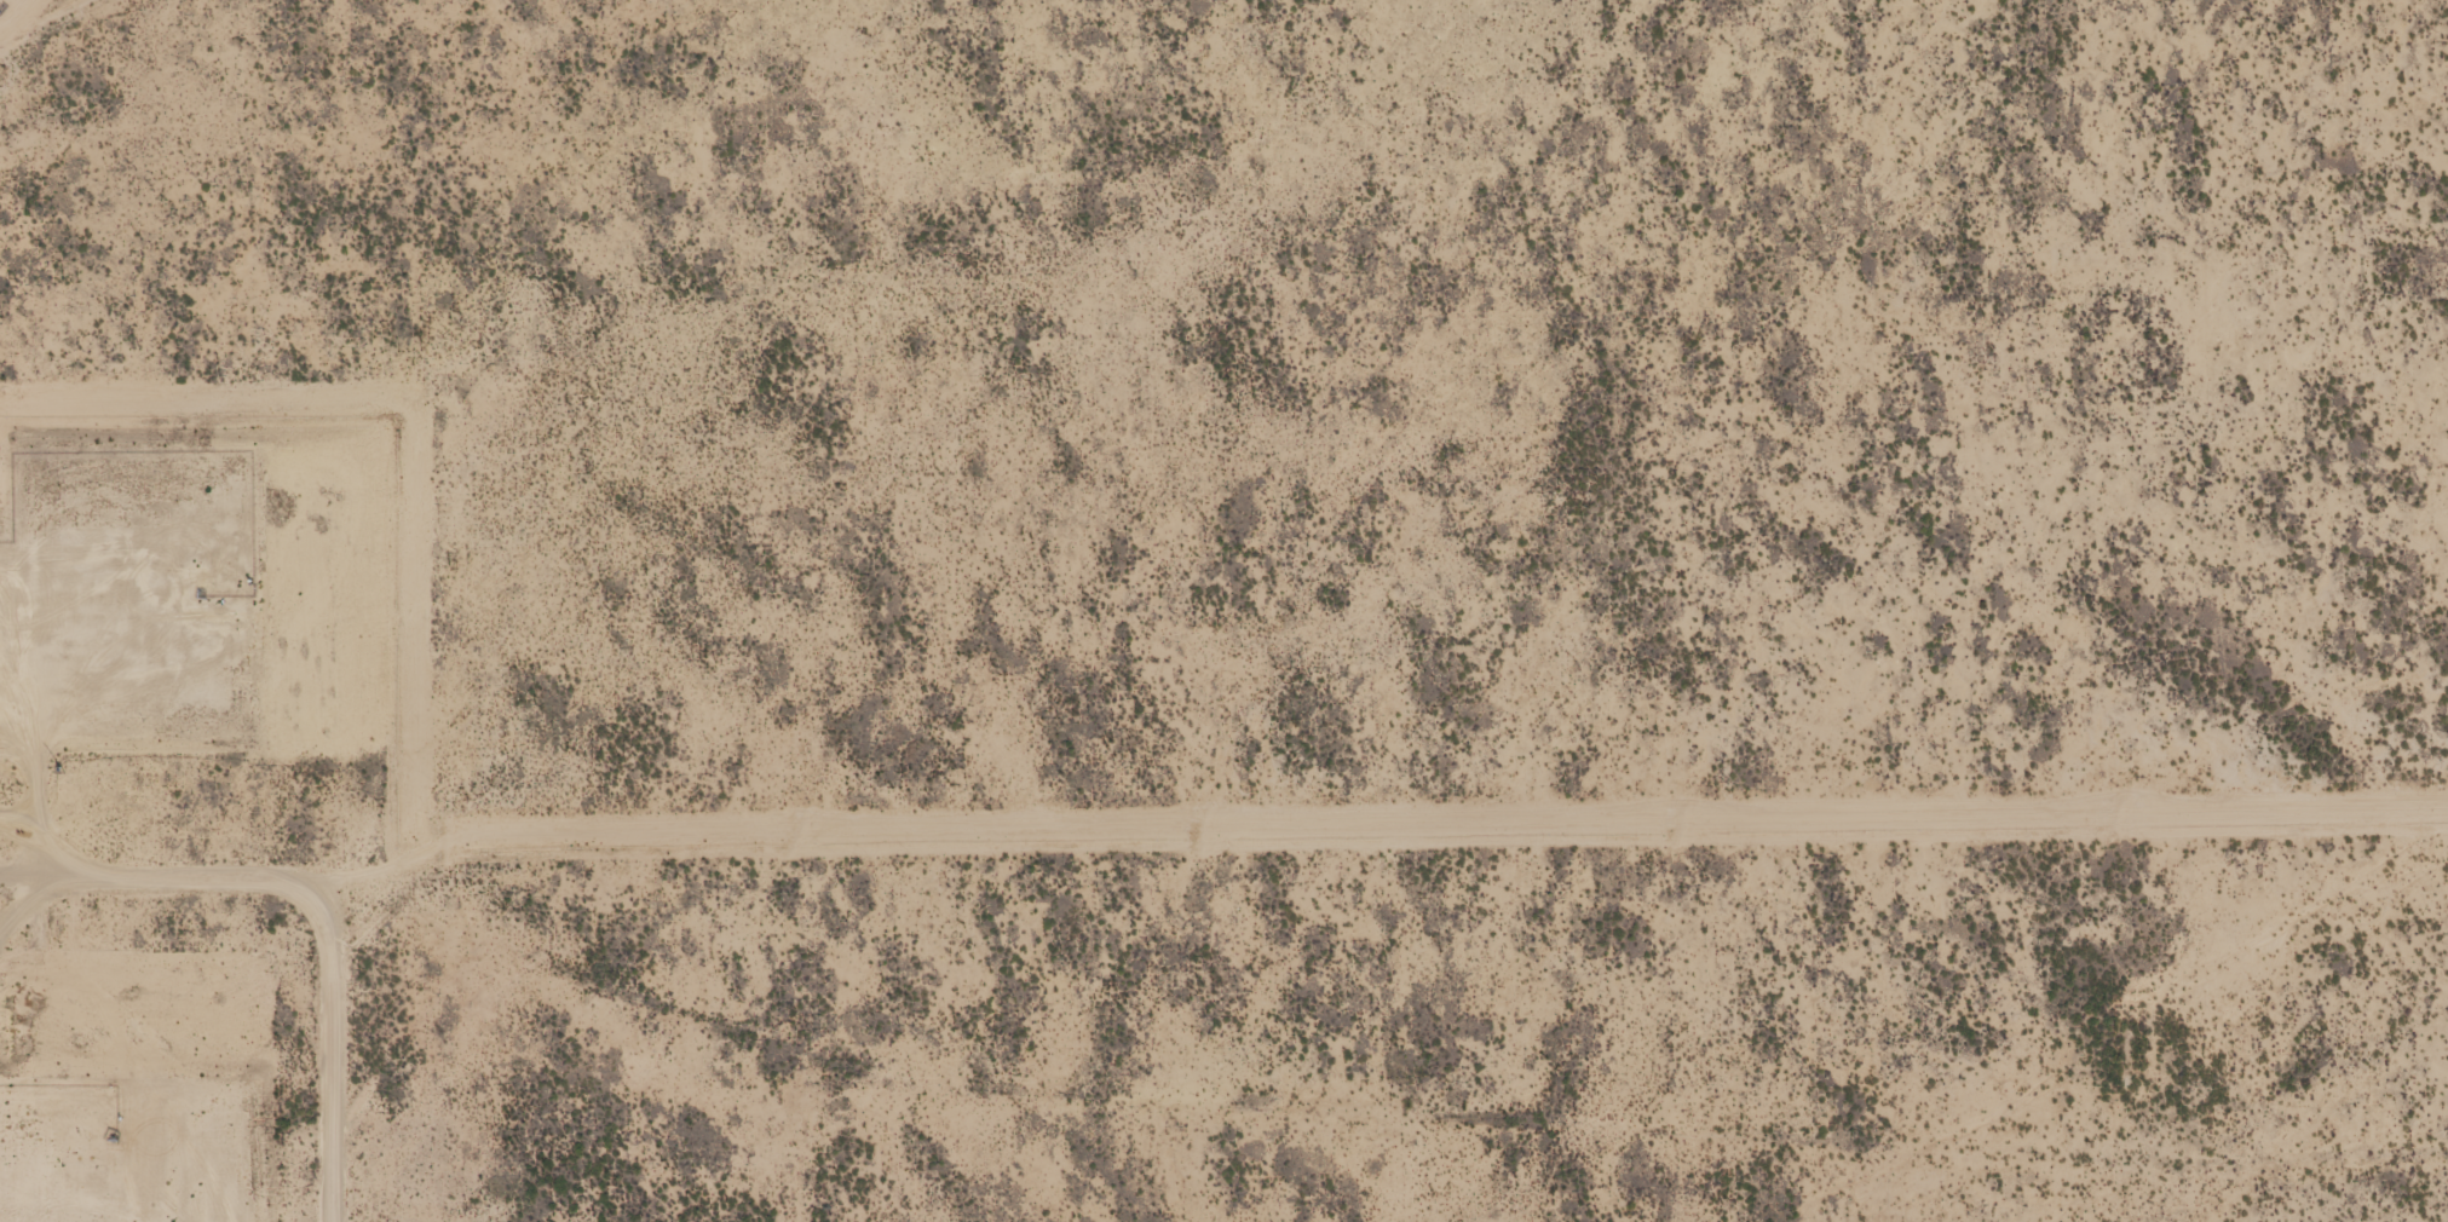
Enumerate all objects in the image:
road: (1187, 1130)

